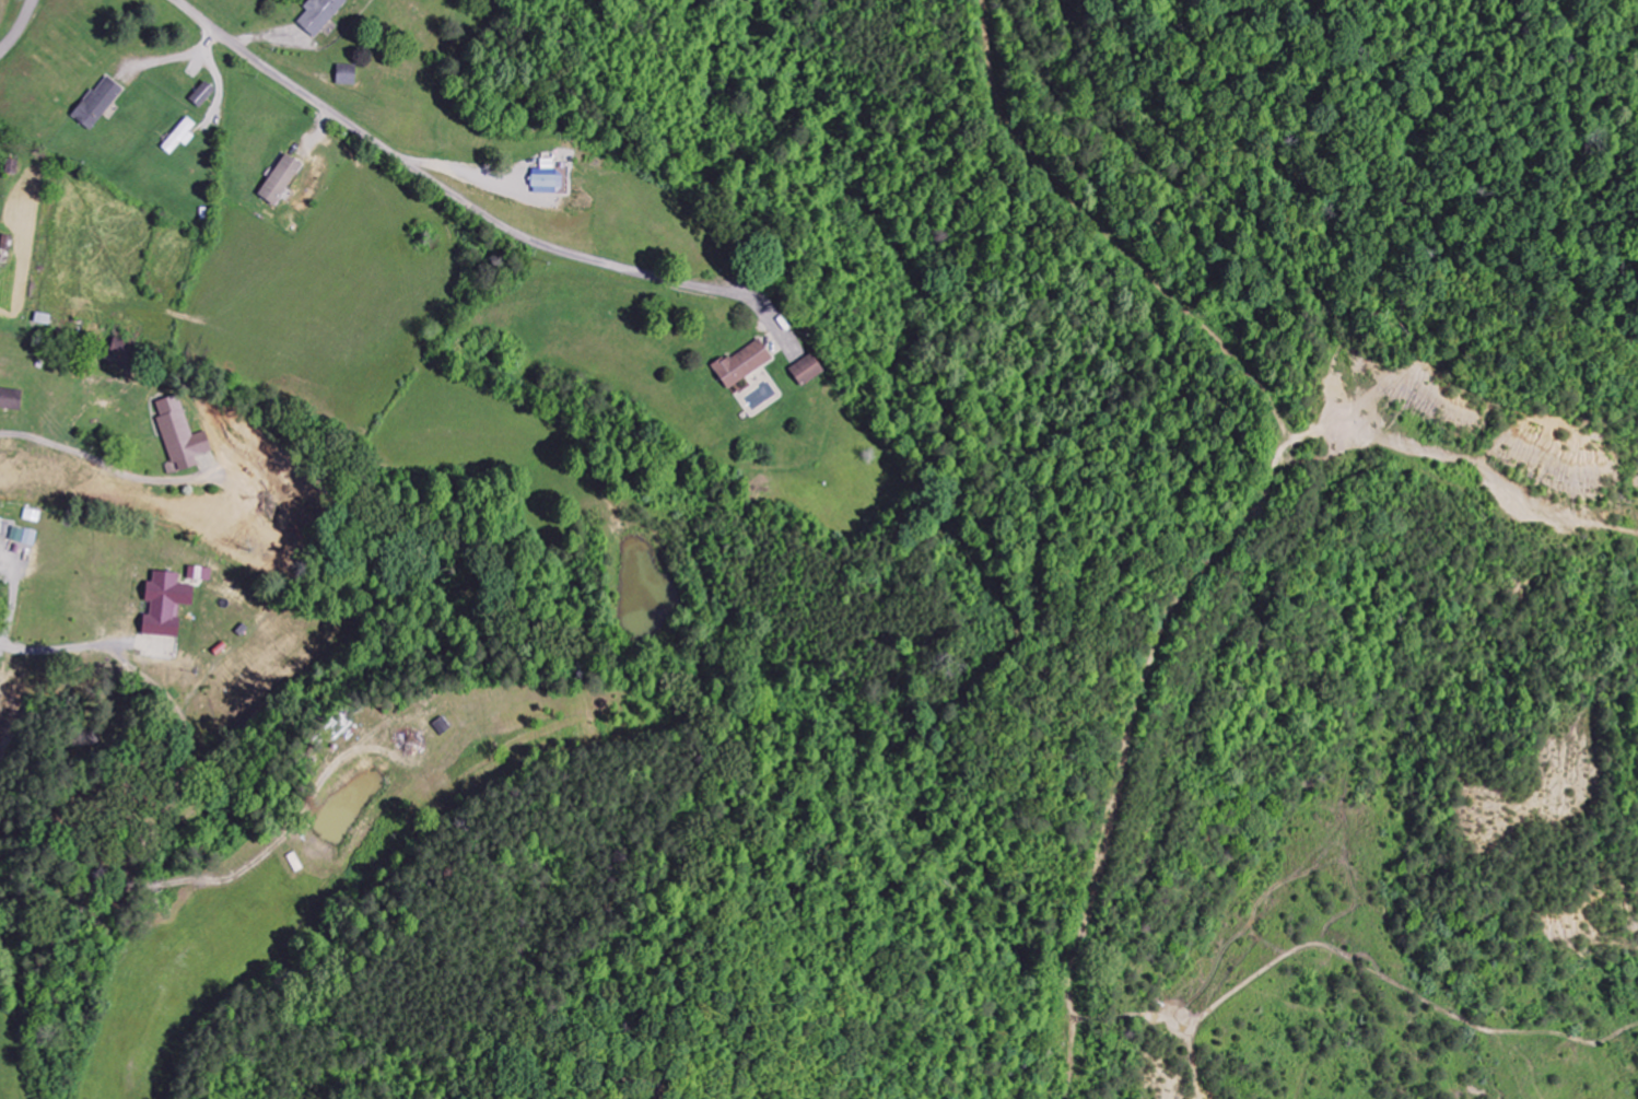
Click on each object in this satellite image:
building: (320, 14)
road: (19, 28)
building: (347, 75)
building: (202, 95)
building: (98, 103)
building: (179, 138)
building: (545, 178)
building: (281, 179)
road: (470, 208)
building: (744, 364)
building: (808, 371)
building: (11, 399)
building: (24, 537)
building: (200, 574)
building: (166, 605)

